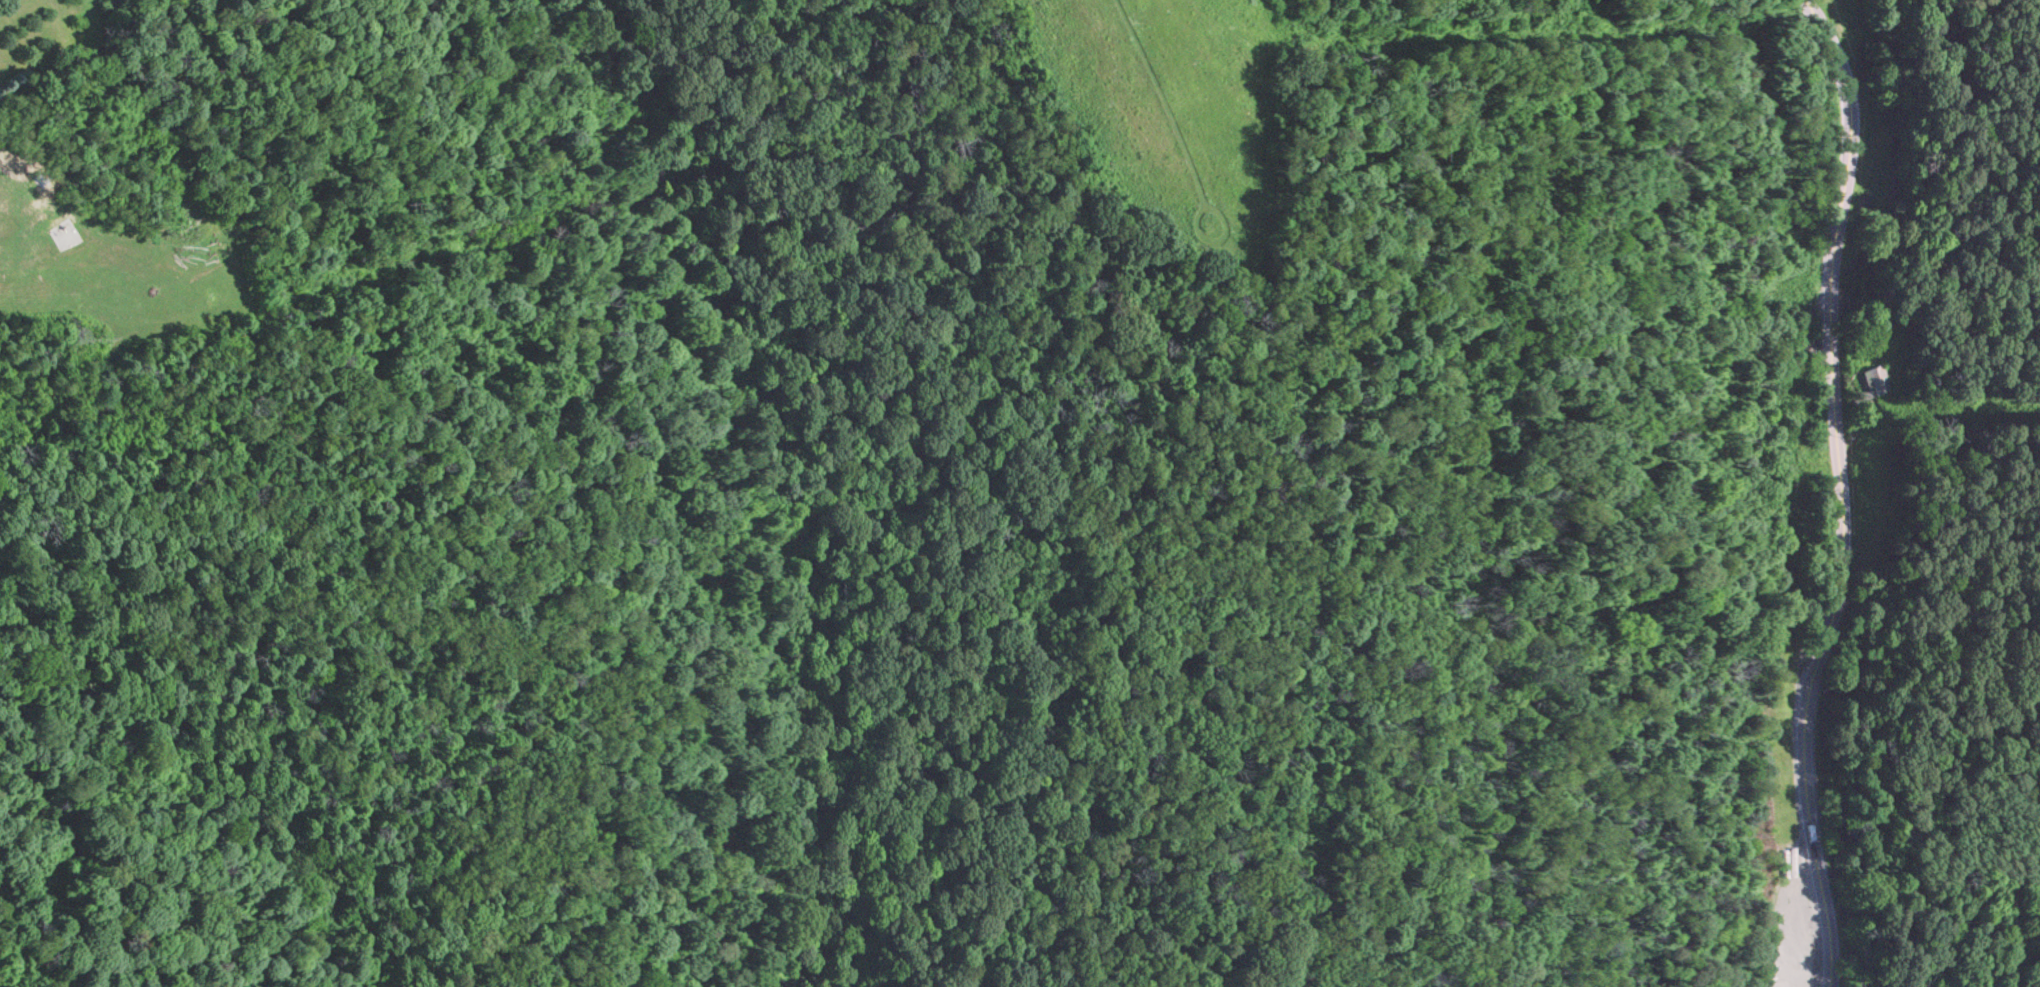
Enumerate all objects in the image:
building: (1876, 378)
road: (1840, 489)

